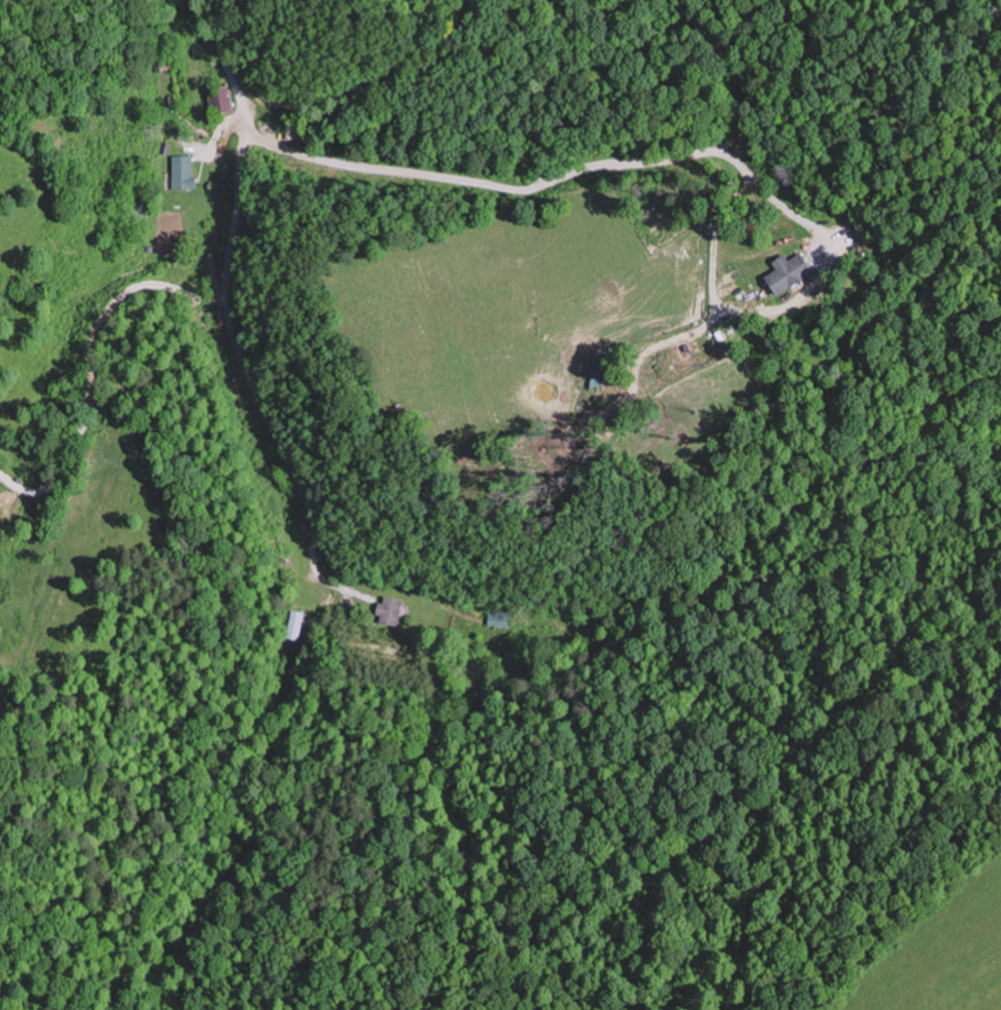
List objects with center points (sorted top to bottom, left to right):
building: (221, 100)
building: (183, 172)
road: (485, 182)
building: (791, 272)
building: (391, 611)
building: (498, 619)
building: (296, 625)

